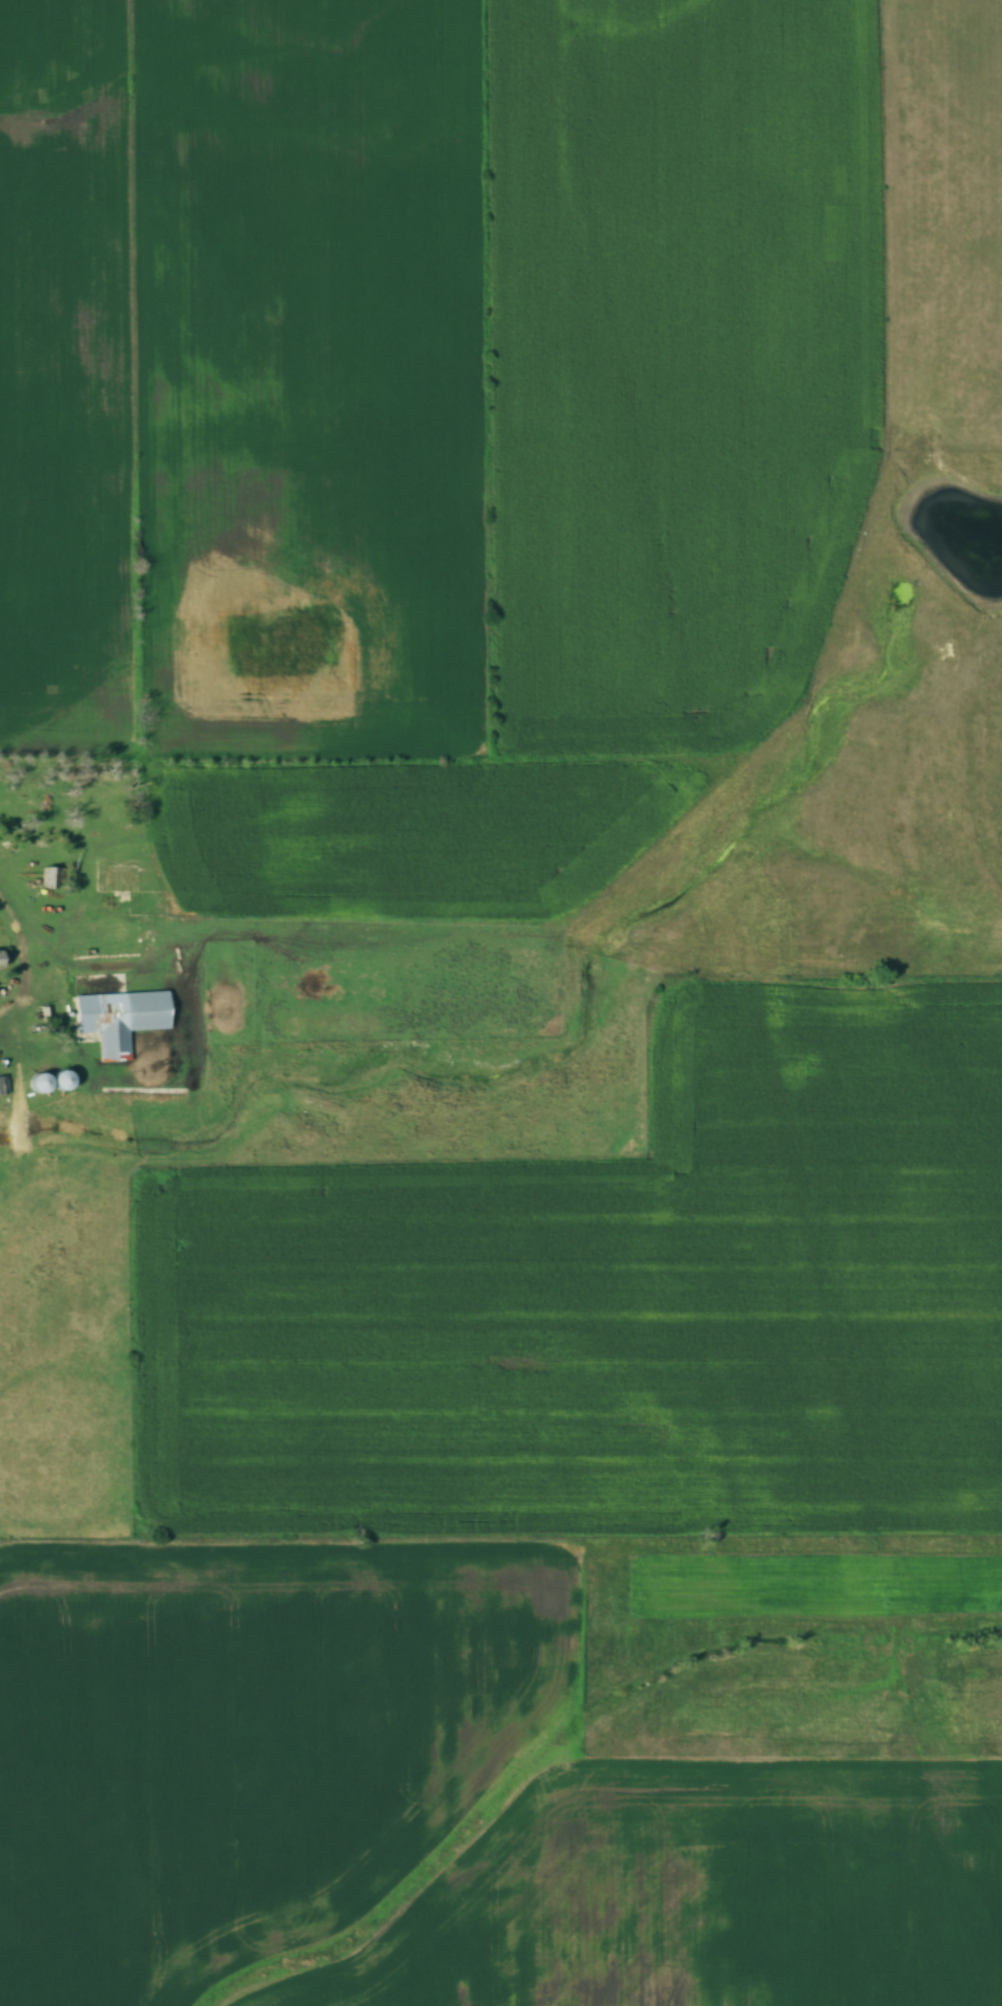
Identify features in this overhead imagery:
building: (2, 961)
building: (120, 1021)

